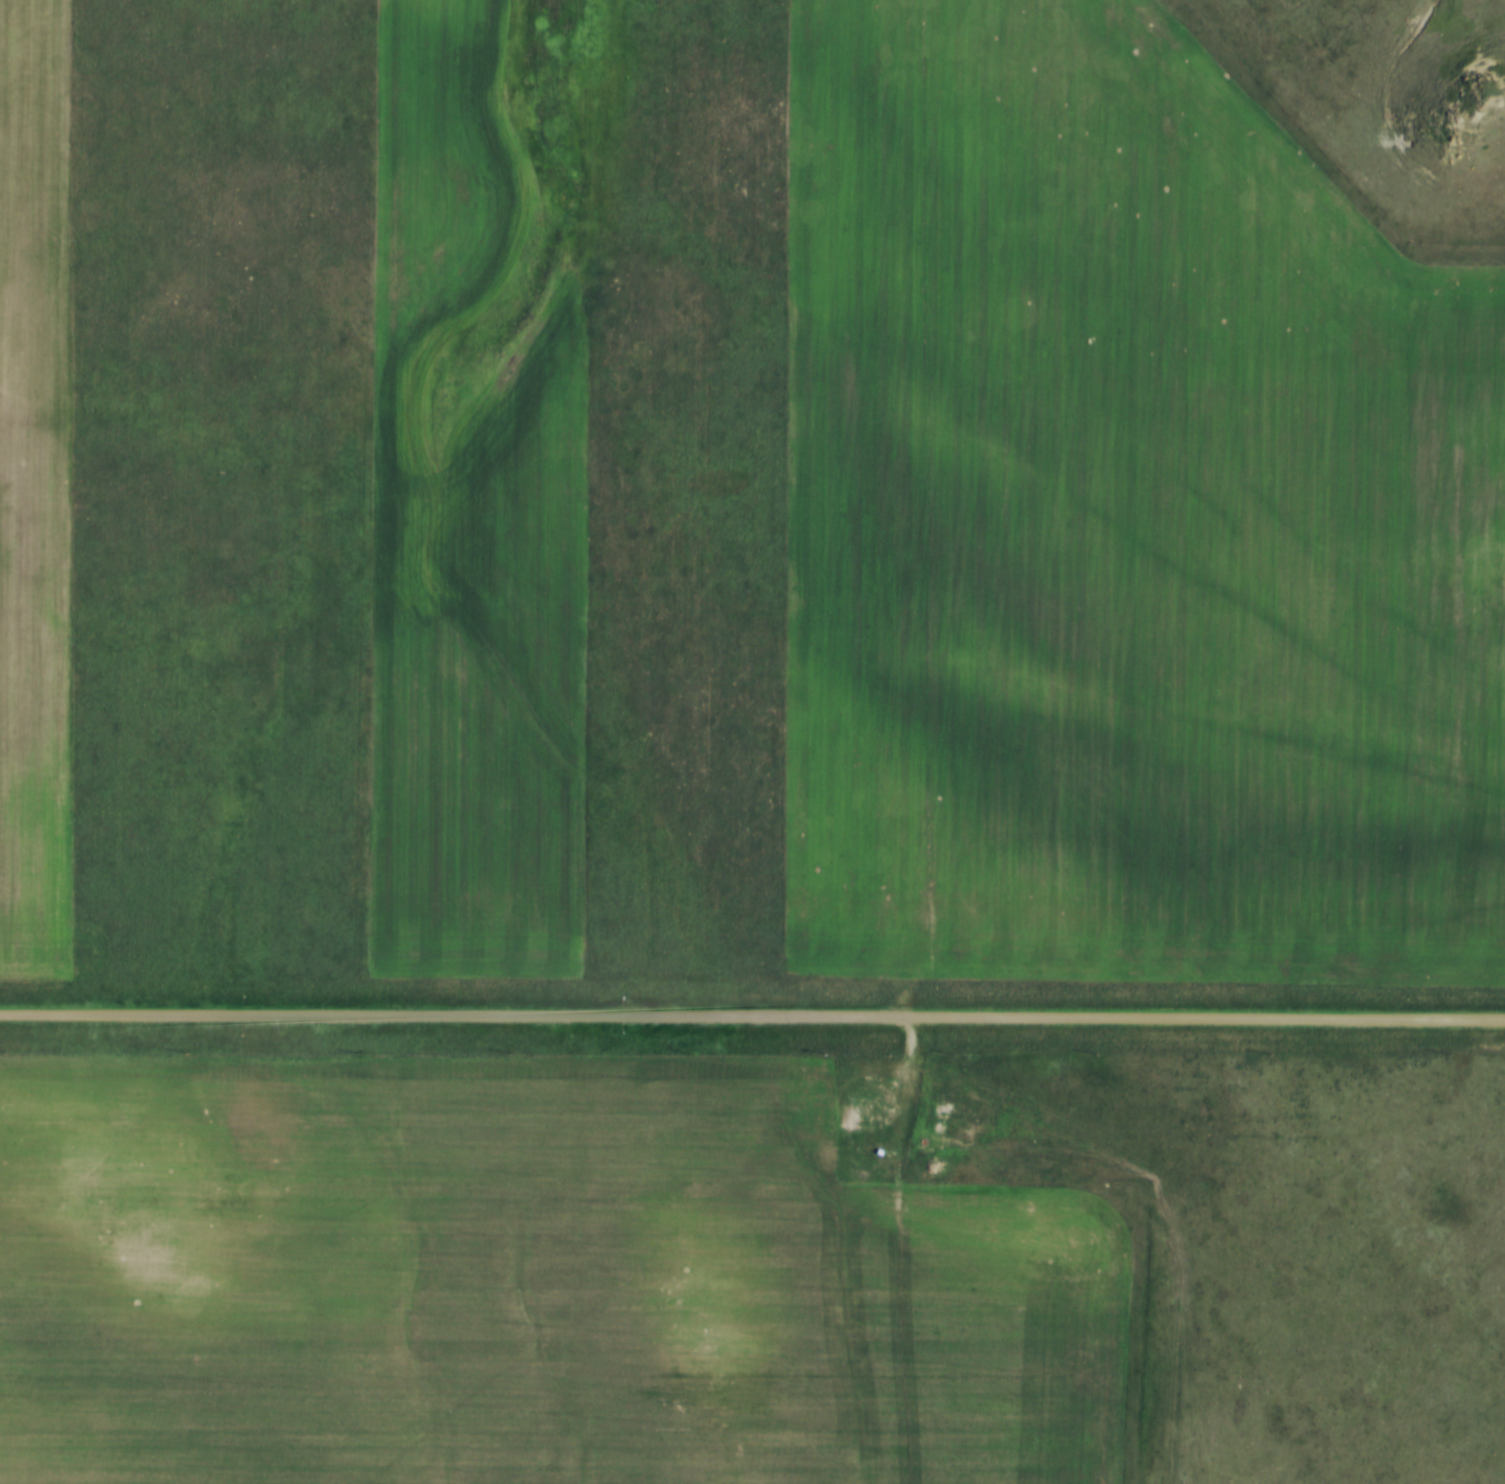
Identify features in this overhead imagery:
road: (1384, 137)
road: (752, 1016)
road: (909, 1099)
road: (1054, 1188)

